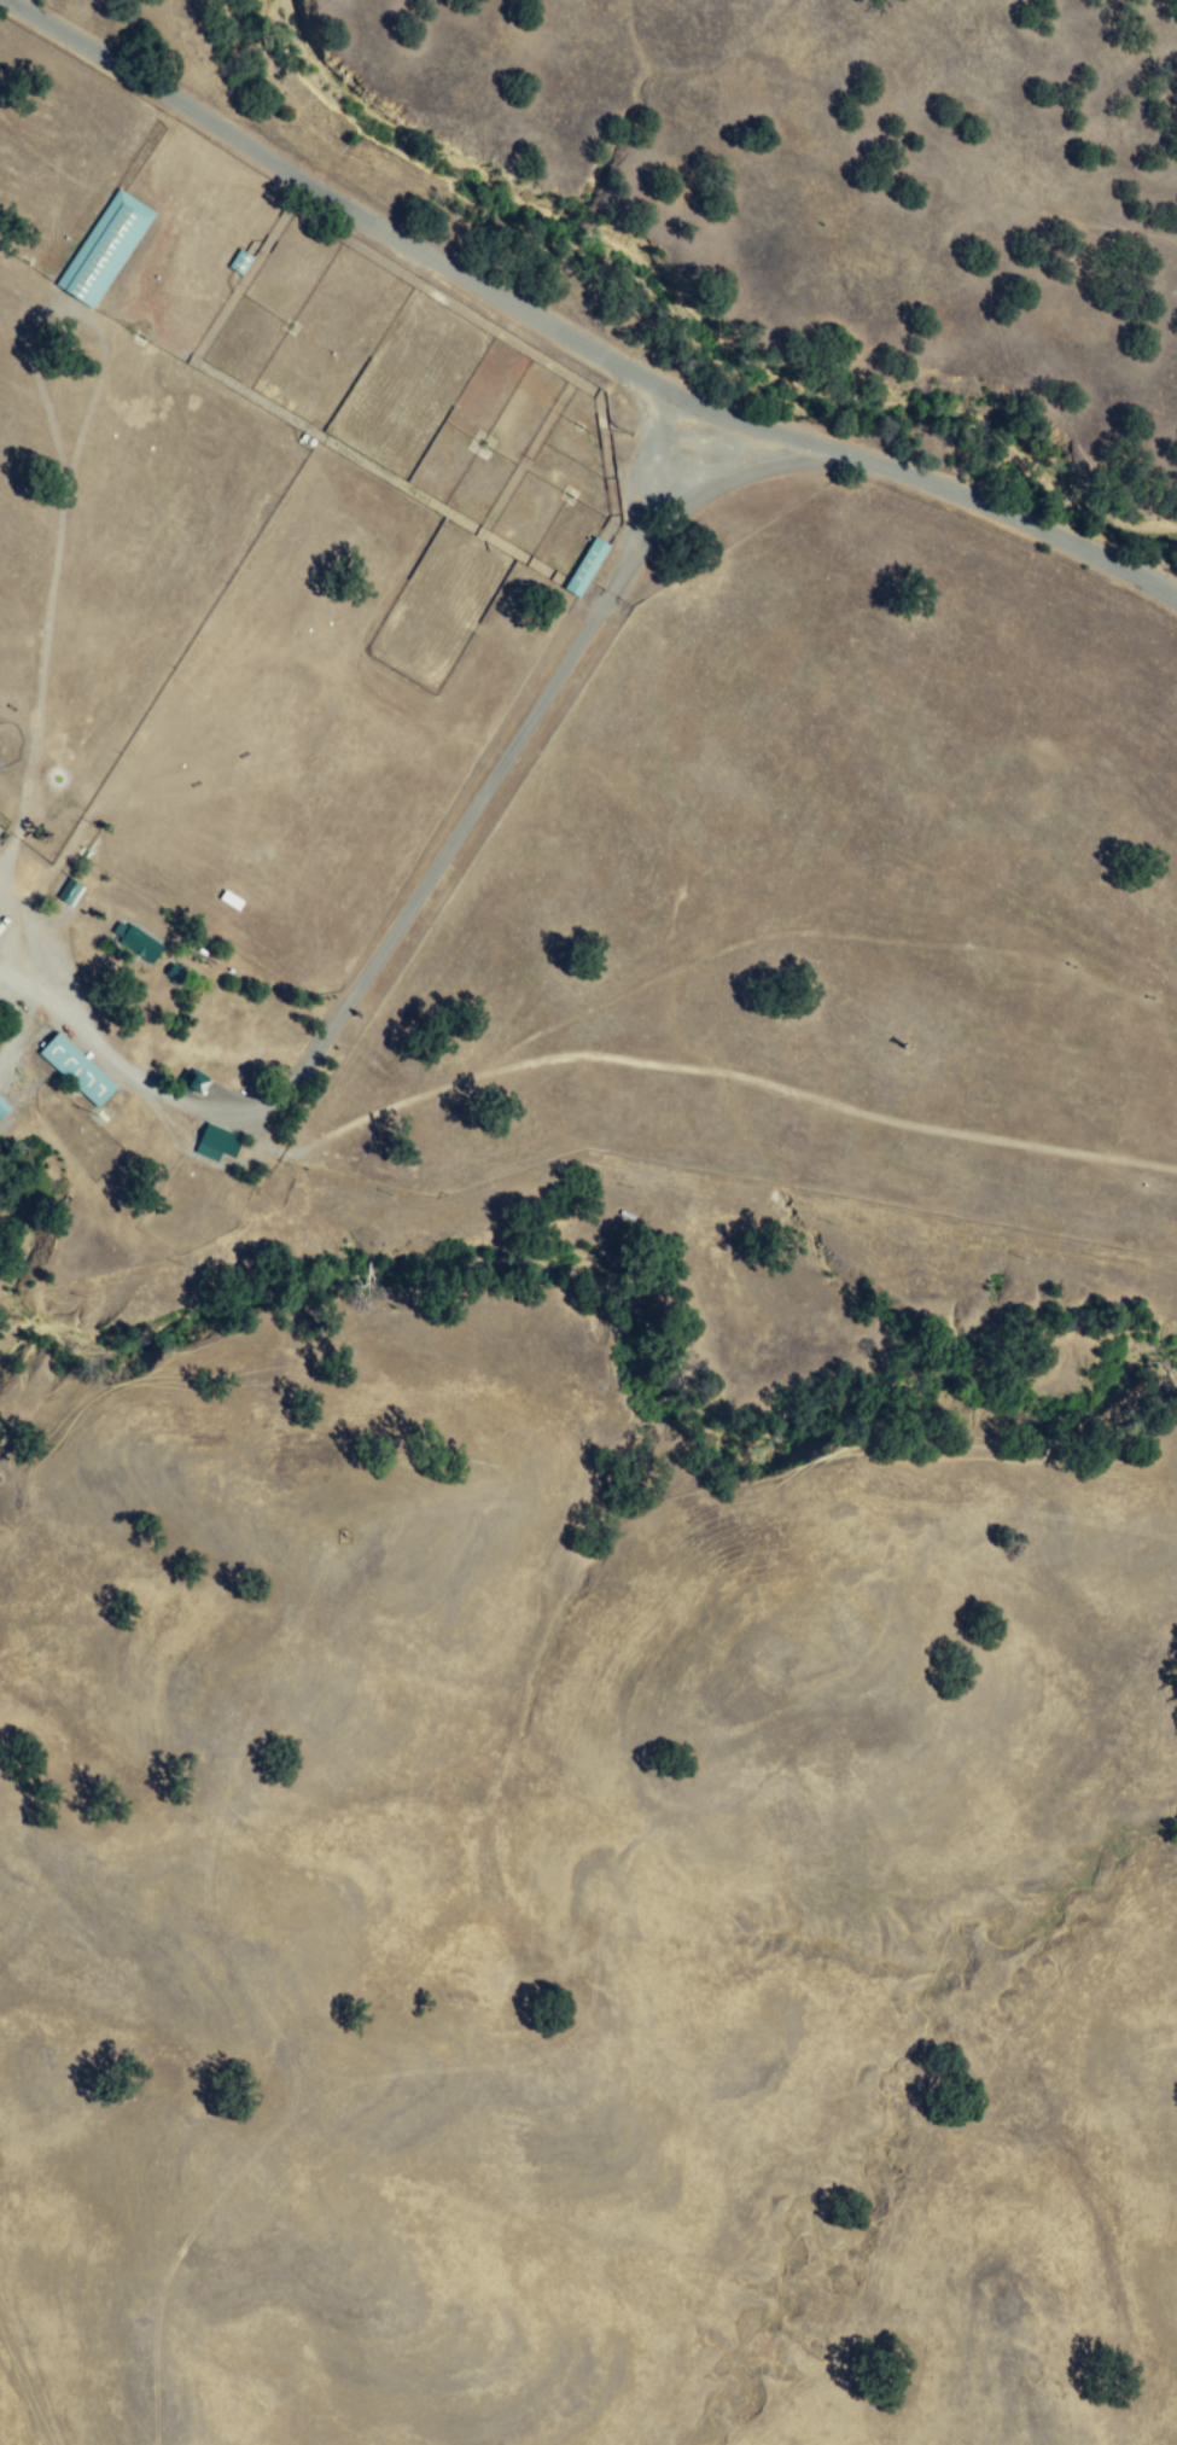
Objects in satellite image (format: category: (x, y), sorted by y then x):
building: (111, 248)
river: (691, 331)
road: (573, 336)
building: (592, 566)
road: (52, 612)
building: (65, 892)
crop: (821, 893)
road: (418, 898)
road: (832, 935)
building: (133, 942)
building: (171, 973)
building: (72, 1070)
building: (188, 1085)
building: (1, 1108)
road: (831, 1108)
road: (359, 1122)
building: (212, 1143)

